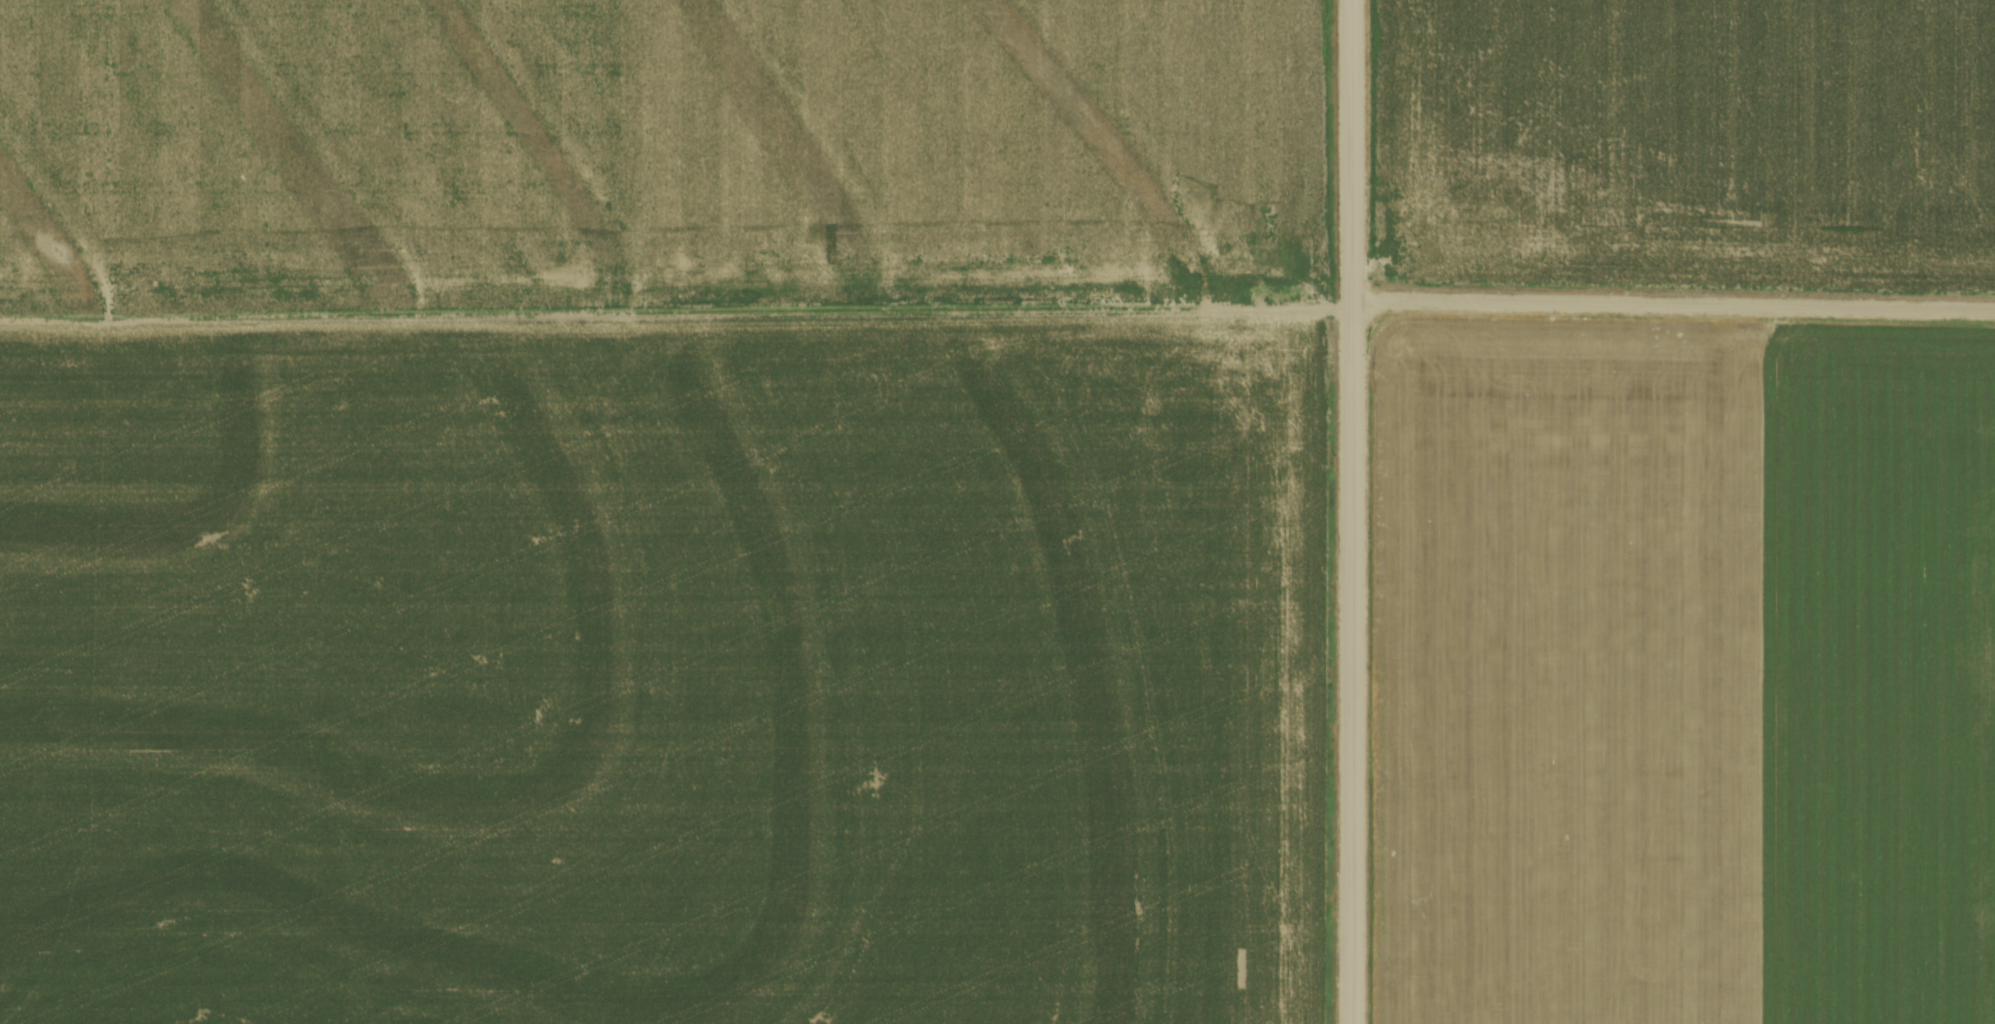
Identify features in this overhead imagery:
road: (1675, 305)
road: (1354, 511)
crop: (1561, 671)
crop: (1874, 675)

